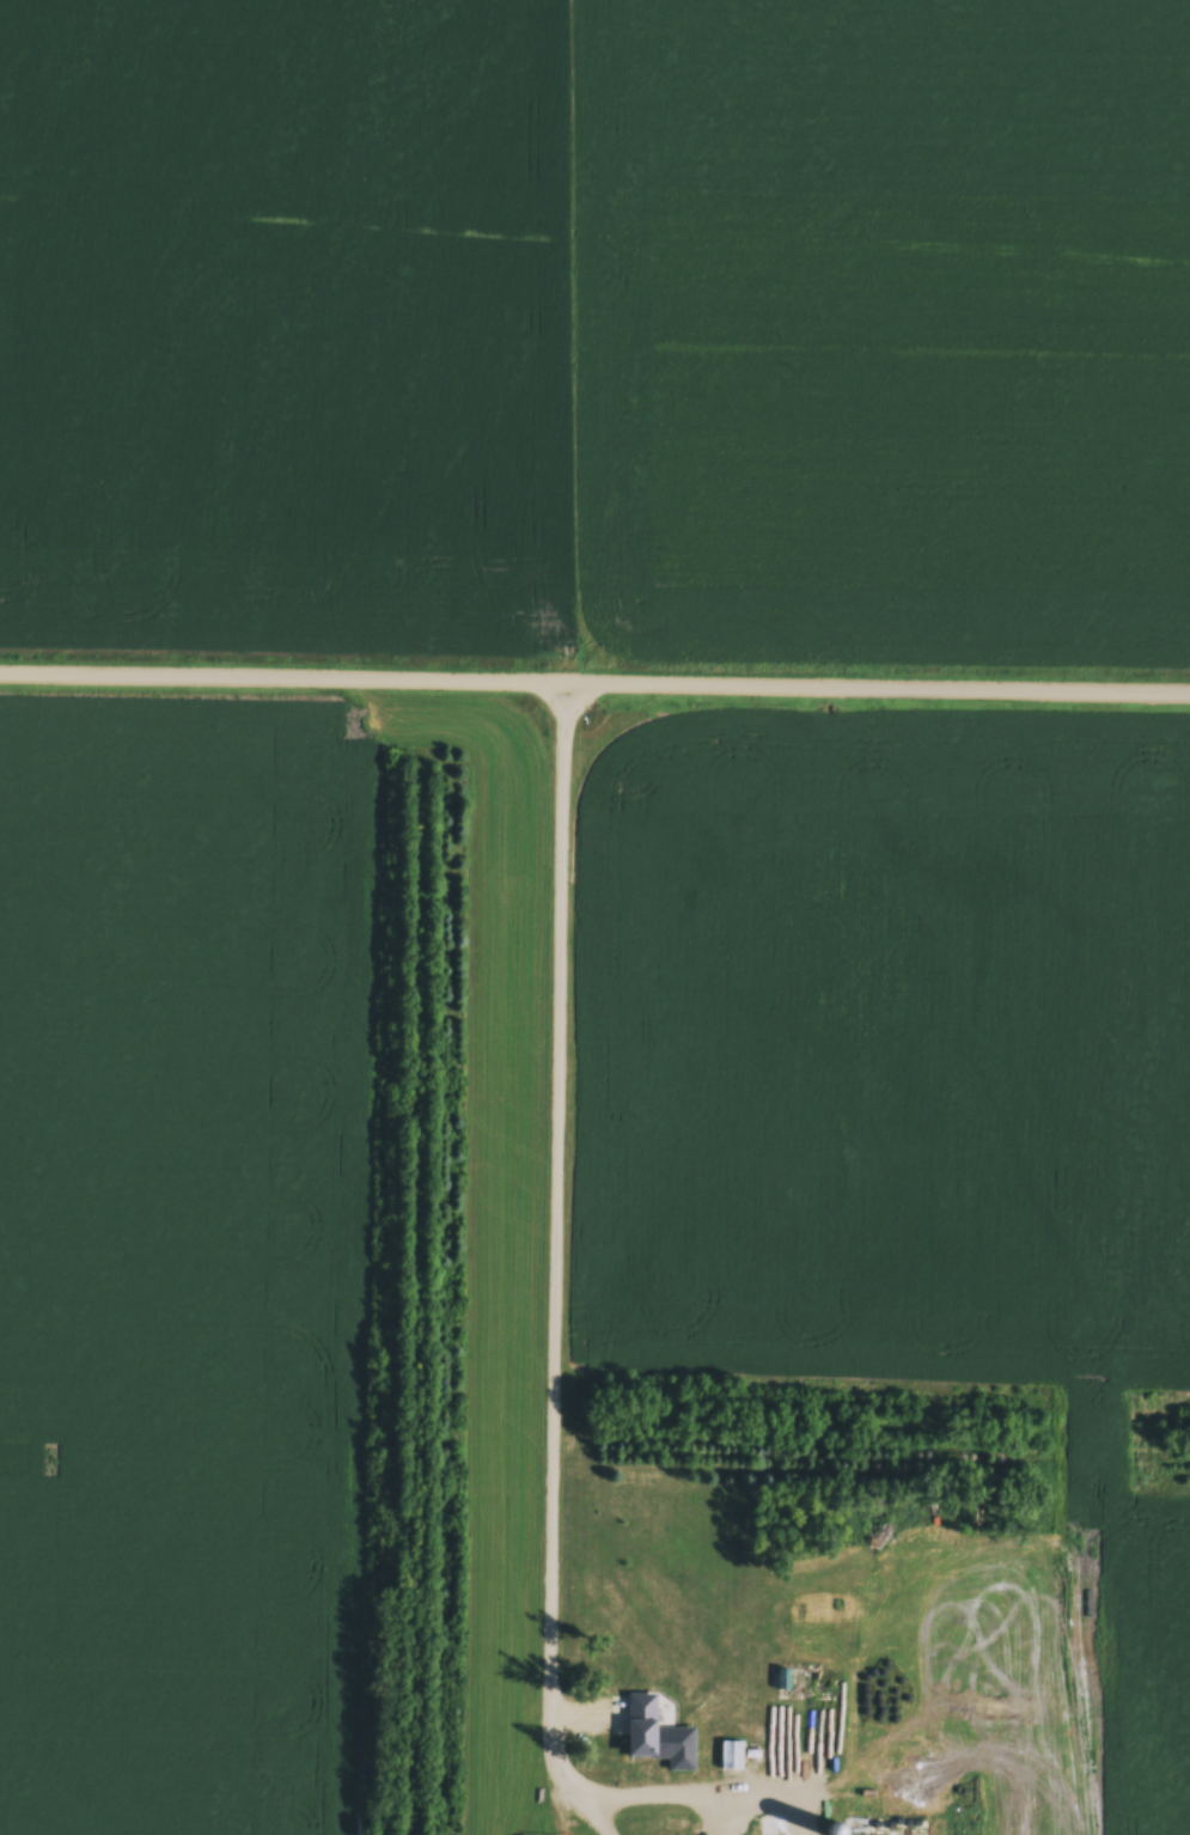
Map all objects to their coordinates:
road: (594, 683)
road: (553, 1244)
building: (658, 1737)
building: (731, 1757)
building: (898, 1781)
road: (661, 1794)
road: (591, 1816)

